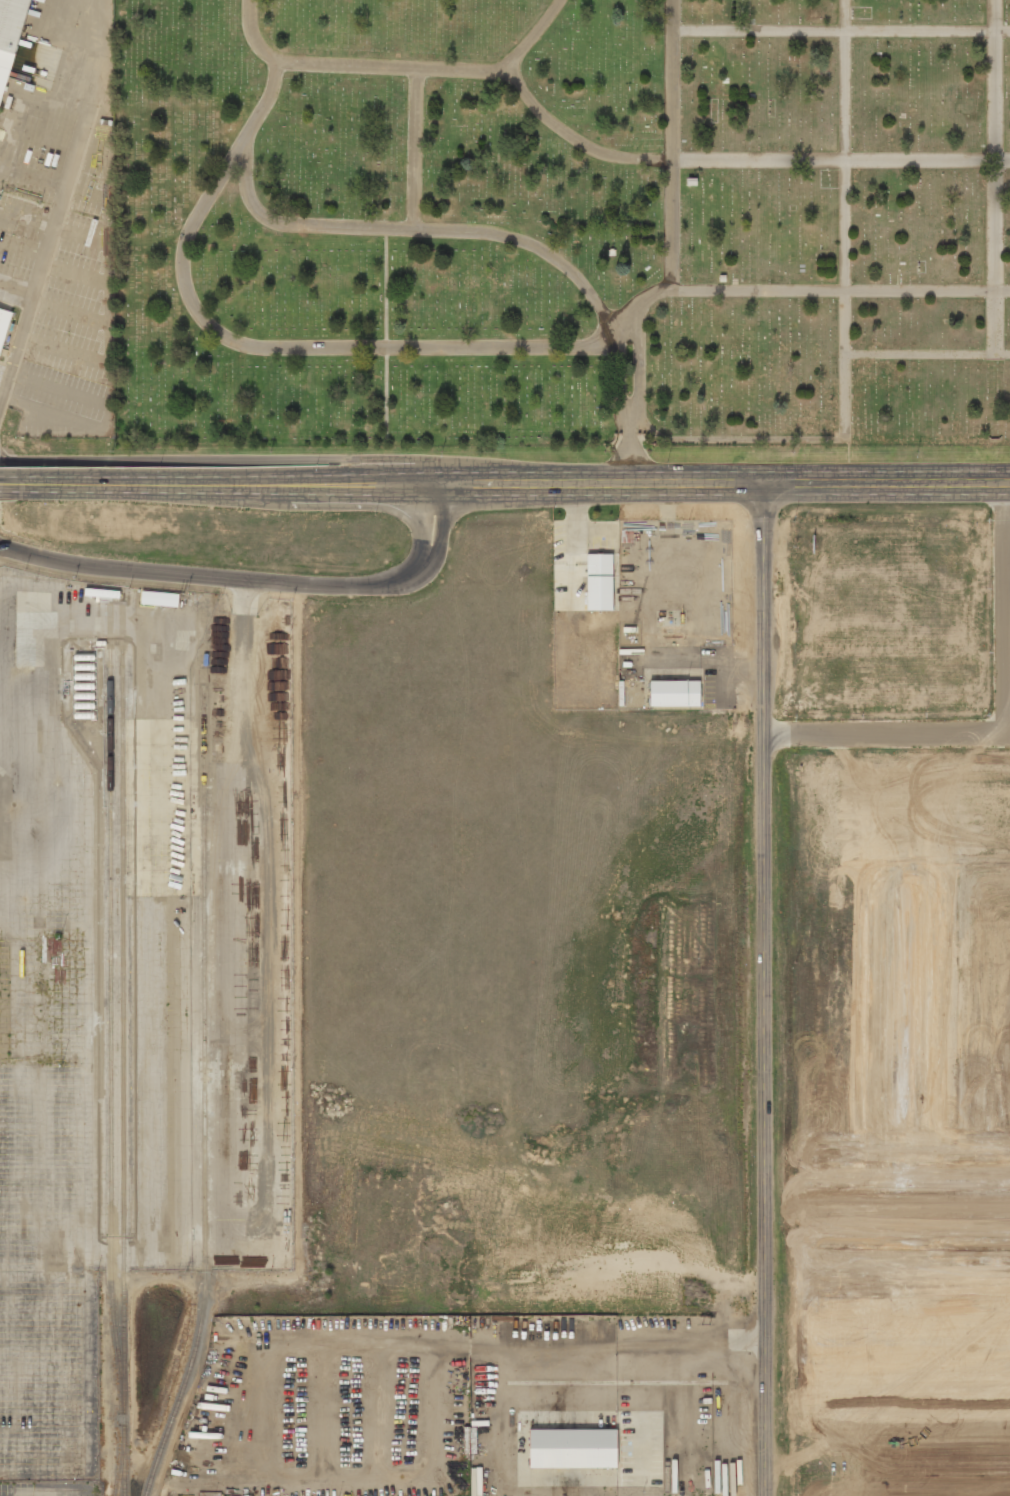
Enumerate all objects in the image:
building: (8, 36)
park: (563, 220)
road: (51, 237)
building: (3, 325)
road: (516, 480)
road: (11, 483)
road: (258, 579)
building: (598, 583)
building: (160, 600)
building: (670, 630)
building: (673, 695)
road: (1005, 727)
road: (765, 989)
railway: (110, 1024)
railway: (122, 1074)
railway: (205, 1086)
building: (573, 1449)
railway: (120, 1465)
building: (476, 1481)
airport: (901, 1484)

